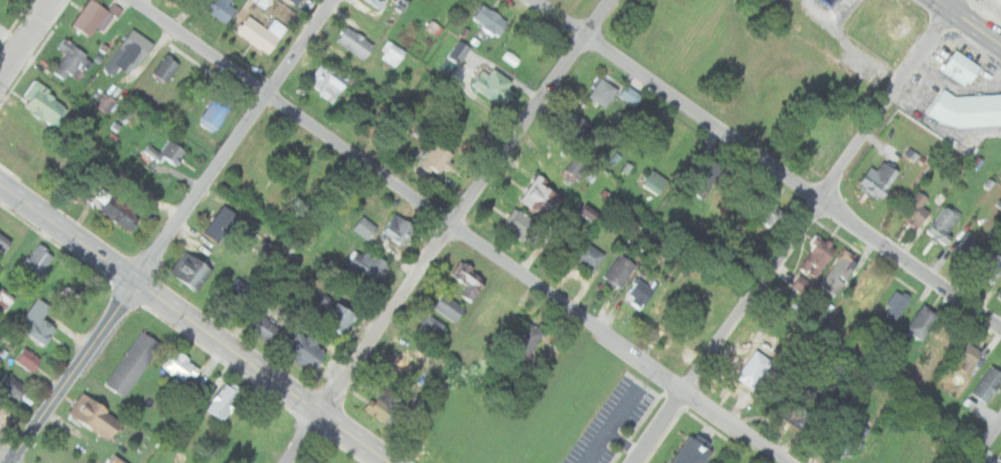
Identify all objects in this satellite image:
building: (290, 1)
building: (295, 1)
building: (831, 1)
building: (261, 3)
building: (377, 3)
building: (222, 8)
road: (185, 13)
building: (91, 17)
building: (484, 19)
road: (968, 22)
building: (432, 28)
building: (259, 33)
road: (25, 38)
building: (354, 42)
building: (459, 51)
building: (128, 53)
building: (391, 53)
building: (70, 59)
building: (445, 67)
building: (166, 68)
building: (960, 68)
building: (327, 80)
building: (495, 85)
building: (603, 89)
building: (629, 95)
building: (102, 102)
building: (45, 105)
building: (966, 110)
building: (216, 112)
building: (130, 119)
building: (475, 125)
building: (579, 130)
building: (395, 131)
building: (168, 152)
building: (908, 153)
building: (435, 159)
road: (767, 163)
building: (646, 180)
building: (880, 180)
building: (541, 196)
building: (916, 210)
building: (121, 212)
building: (767, 216)
building: (222, 224)
building: (943, 225)
building: (524, 226)
building: (365, 228)
road: (171, 229)
building: (397, 229)
road: (446, 230)
road: (464, 231)
road: (797, 233)
building: (3, 244)
building: (965, 245)
building: (590, 256)
building: (816, 259)
building: (33, 263)
building: (367, 266)
building: (989, 266)
building: (620, 270)
building: (191, 271)
building: (840, 272)
building: (469, 283)
building: (797, 286)
building: (866, 291)
building: (640, 292)
building: (999, 295)
building: (5, 300)
building: (670, 303)
building: (895, 304)
building: (448, 307)
building: (500, 308)
building: (336, 316)
building: (921, 322)
building: (34, 323)
road: (198, 323)
building: (431, 327)
building: (263, 330)
building: (530, 340)
building: (307, 350)
building: (968, 356)
building: (23, 358)
building: (133, 363)
building: (179, 365)
building: (748, 366)
building: (6, 384)
building: (988, 384)
building: (225, 401)
building: (385, 405)
building: (802, 407)
building: (1, 414)
building: (96, 416)
building: (845, 438)
road: (986, 442)
building: (693, 451)
road: (6, 458)
building: (1000, 458)
building: (117, 460)
building: (724, 462)

